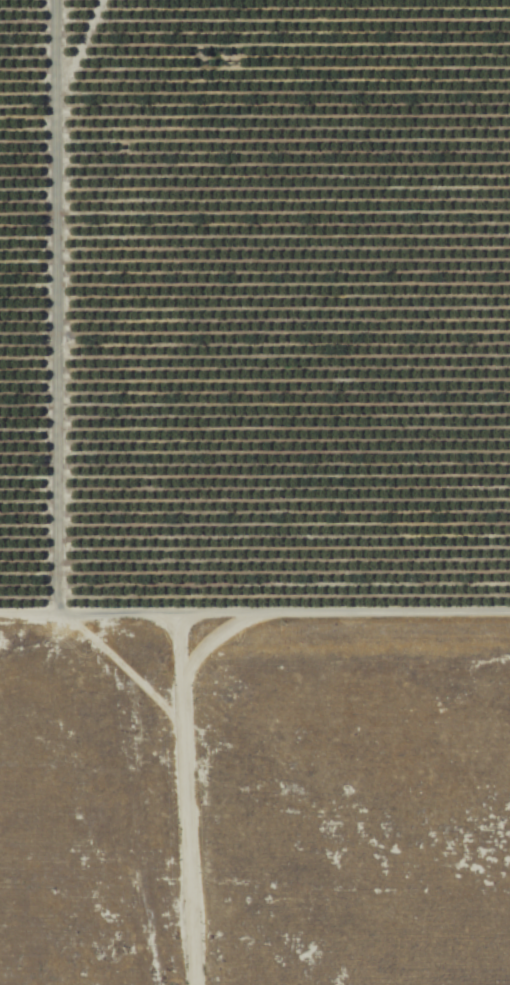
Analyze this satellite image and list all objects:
road: (51, 309)
crop: (255, 311)

